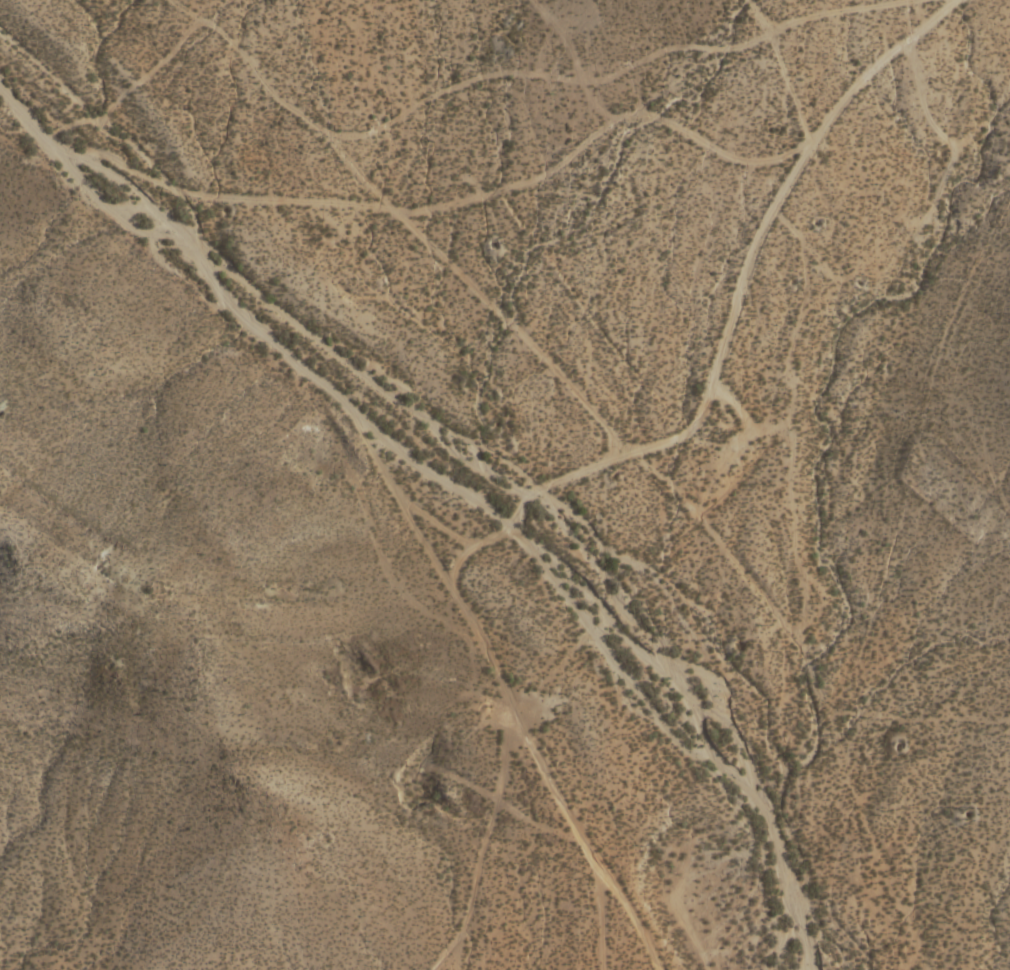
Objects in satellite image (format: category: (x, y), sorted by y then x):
road: (461, 205)
road: (755, 332)
road: (597, 426)
road: (364, 507)
road: (490, 845)

